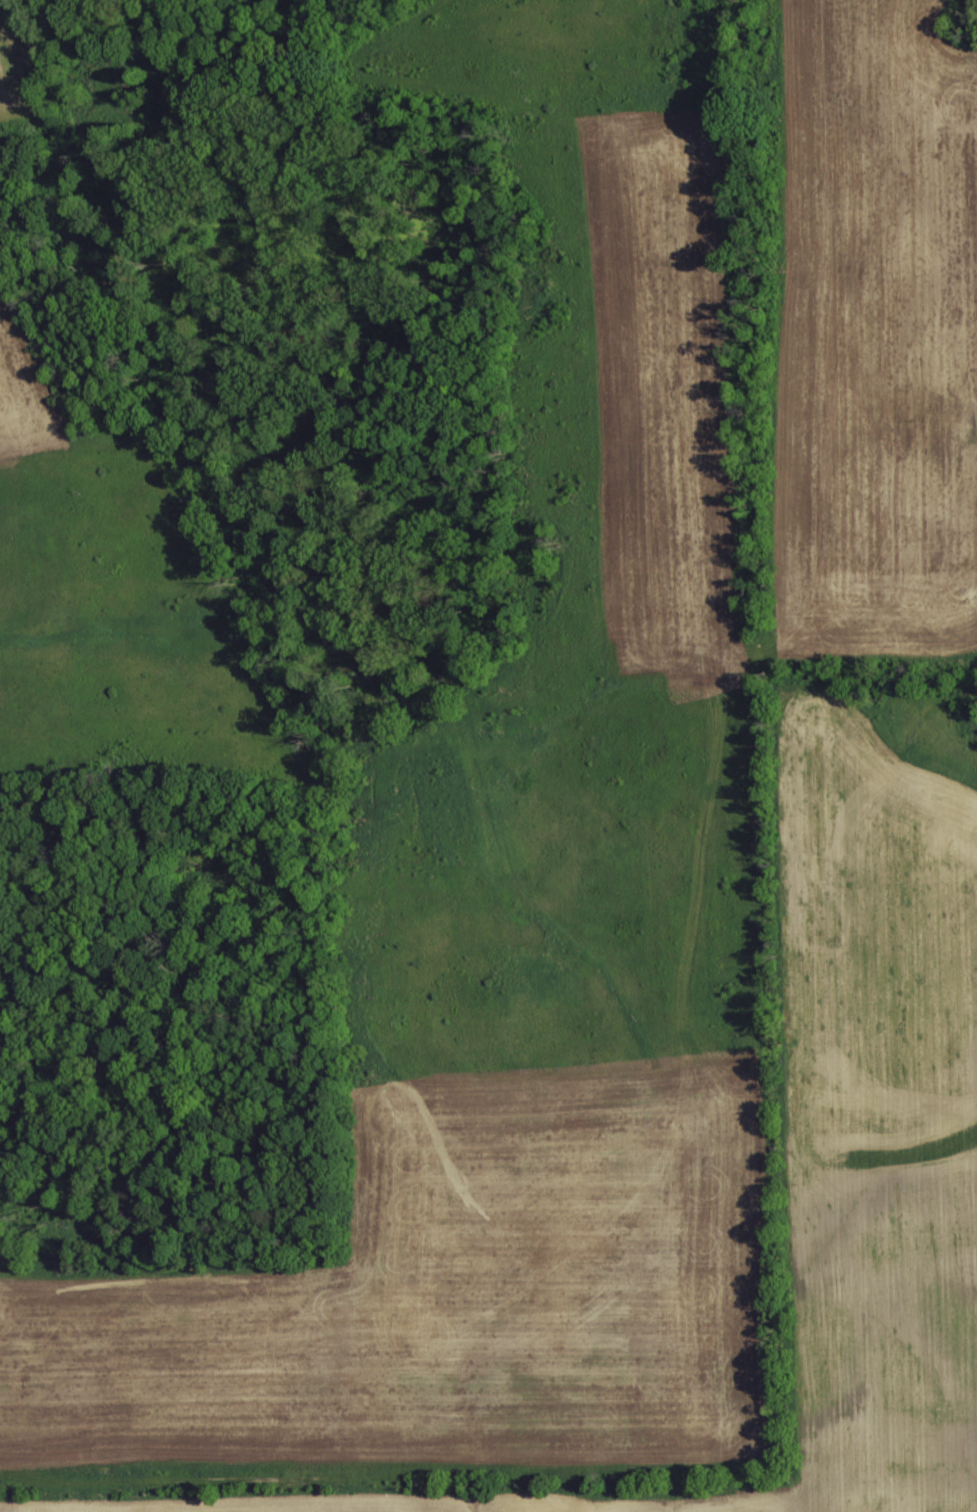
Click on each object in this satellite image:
road: (423, 1495)

